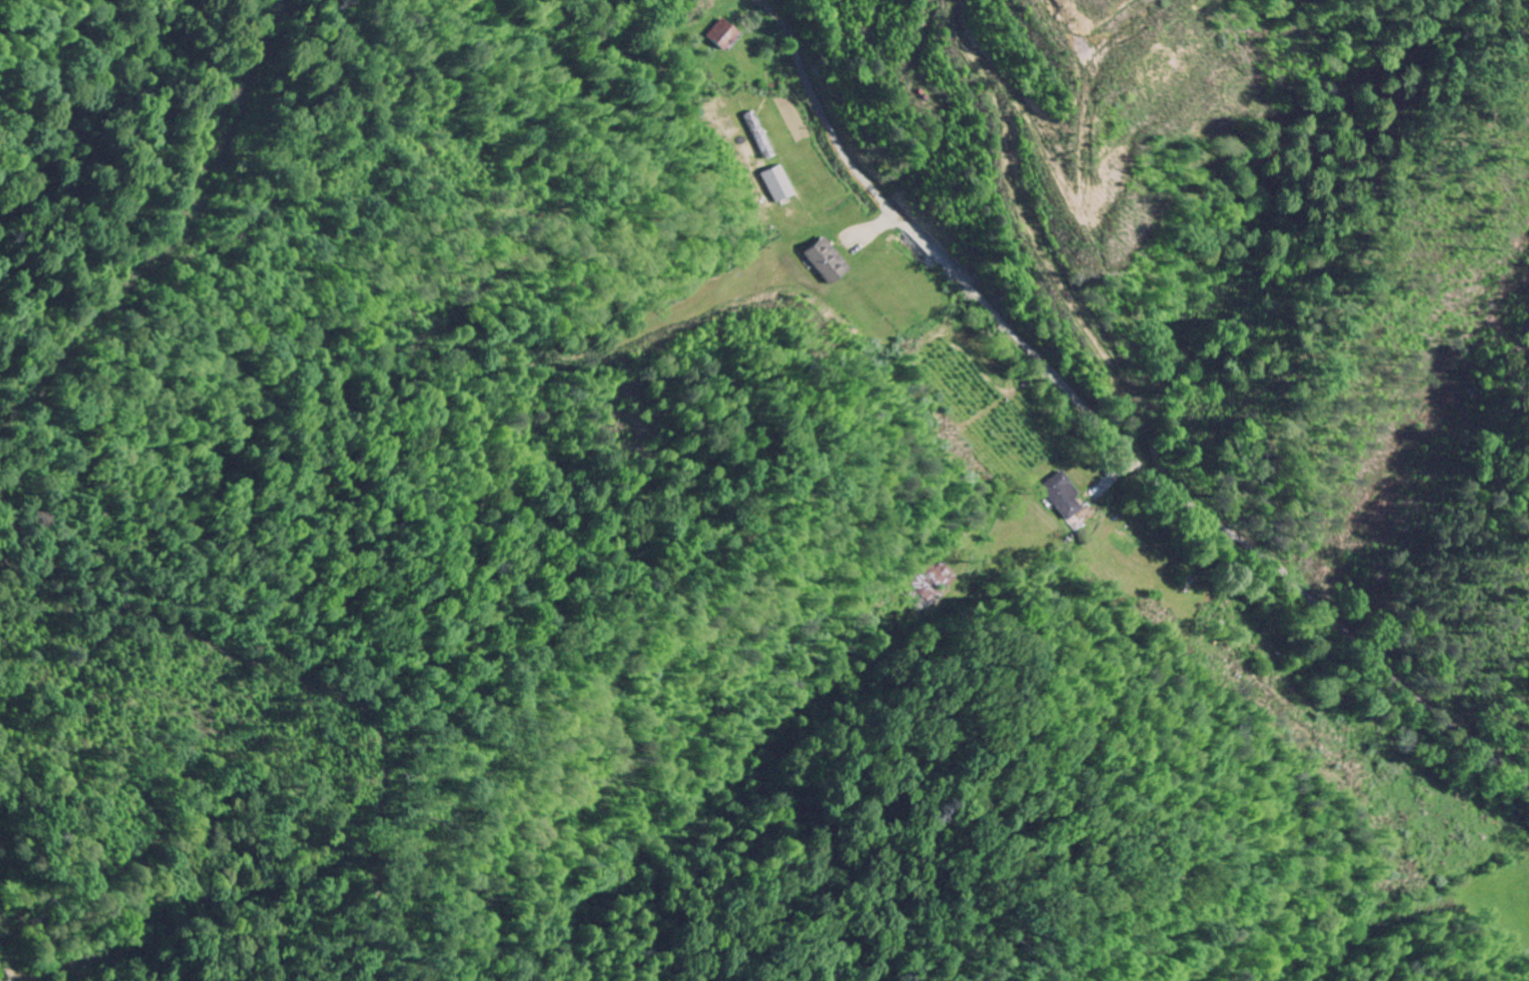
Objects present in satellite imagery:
building: (722, 34)
road: (605, 65)
building: (779, 183)
building: (828, 260)
road: (1121, 442)
building: (1063, 495)

